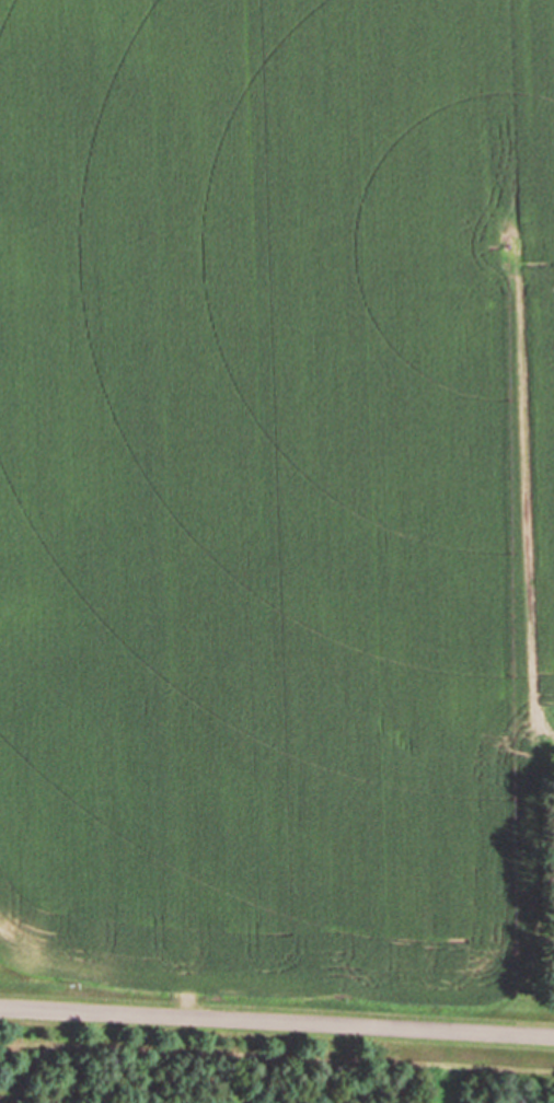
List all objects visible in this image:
road: (276, 1023)

